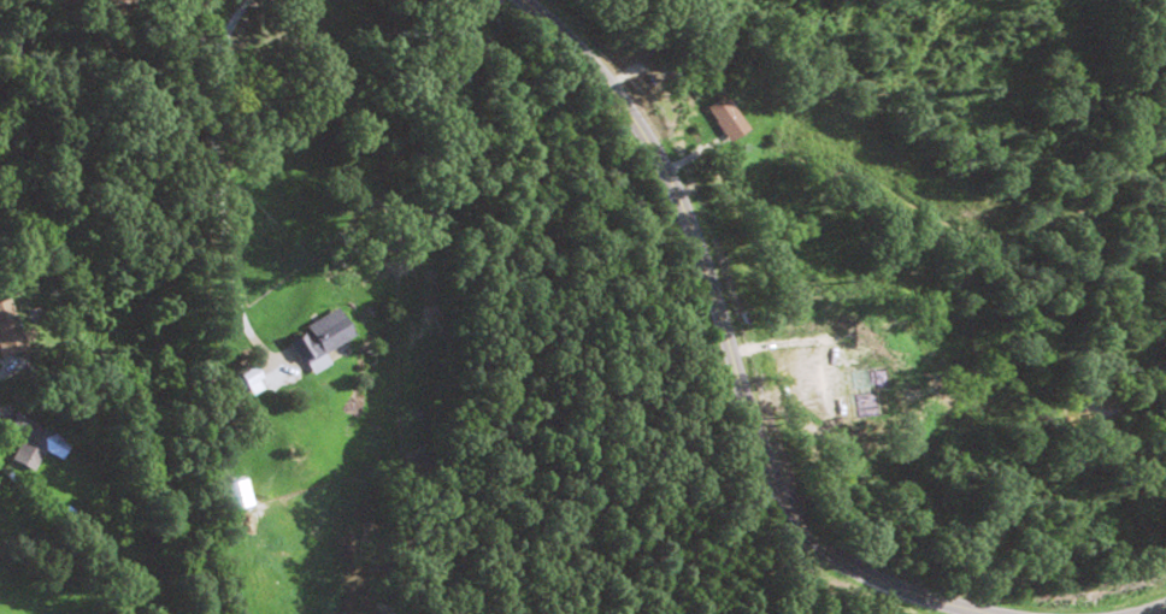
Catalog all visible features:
building: (729, 117)
building: (11, 331)
building: (322, 340)
road: (723, 344)
building: (30, 441)
road: (1147, 607)

